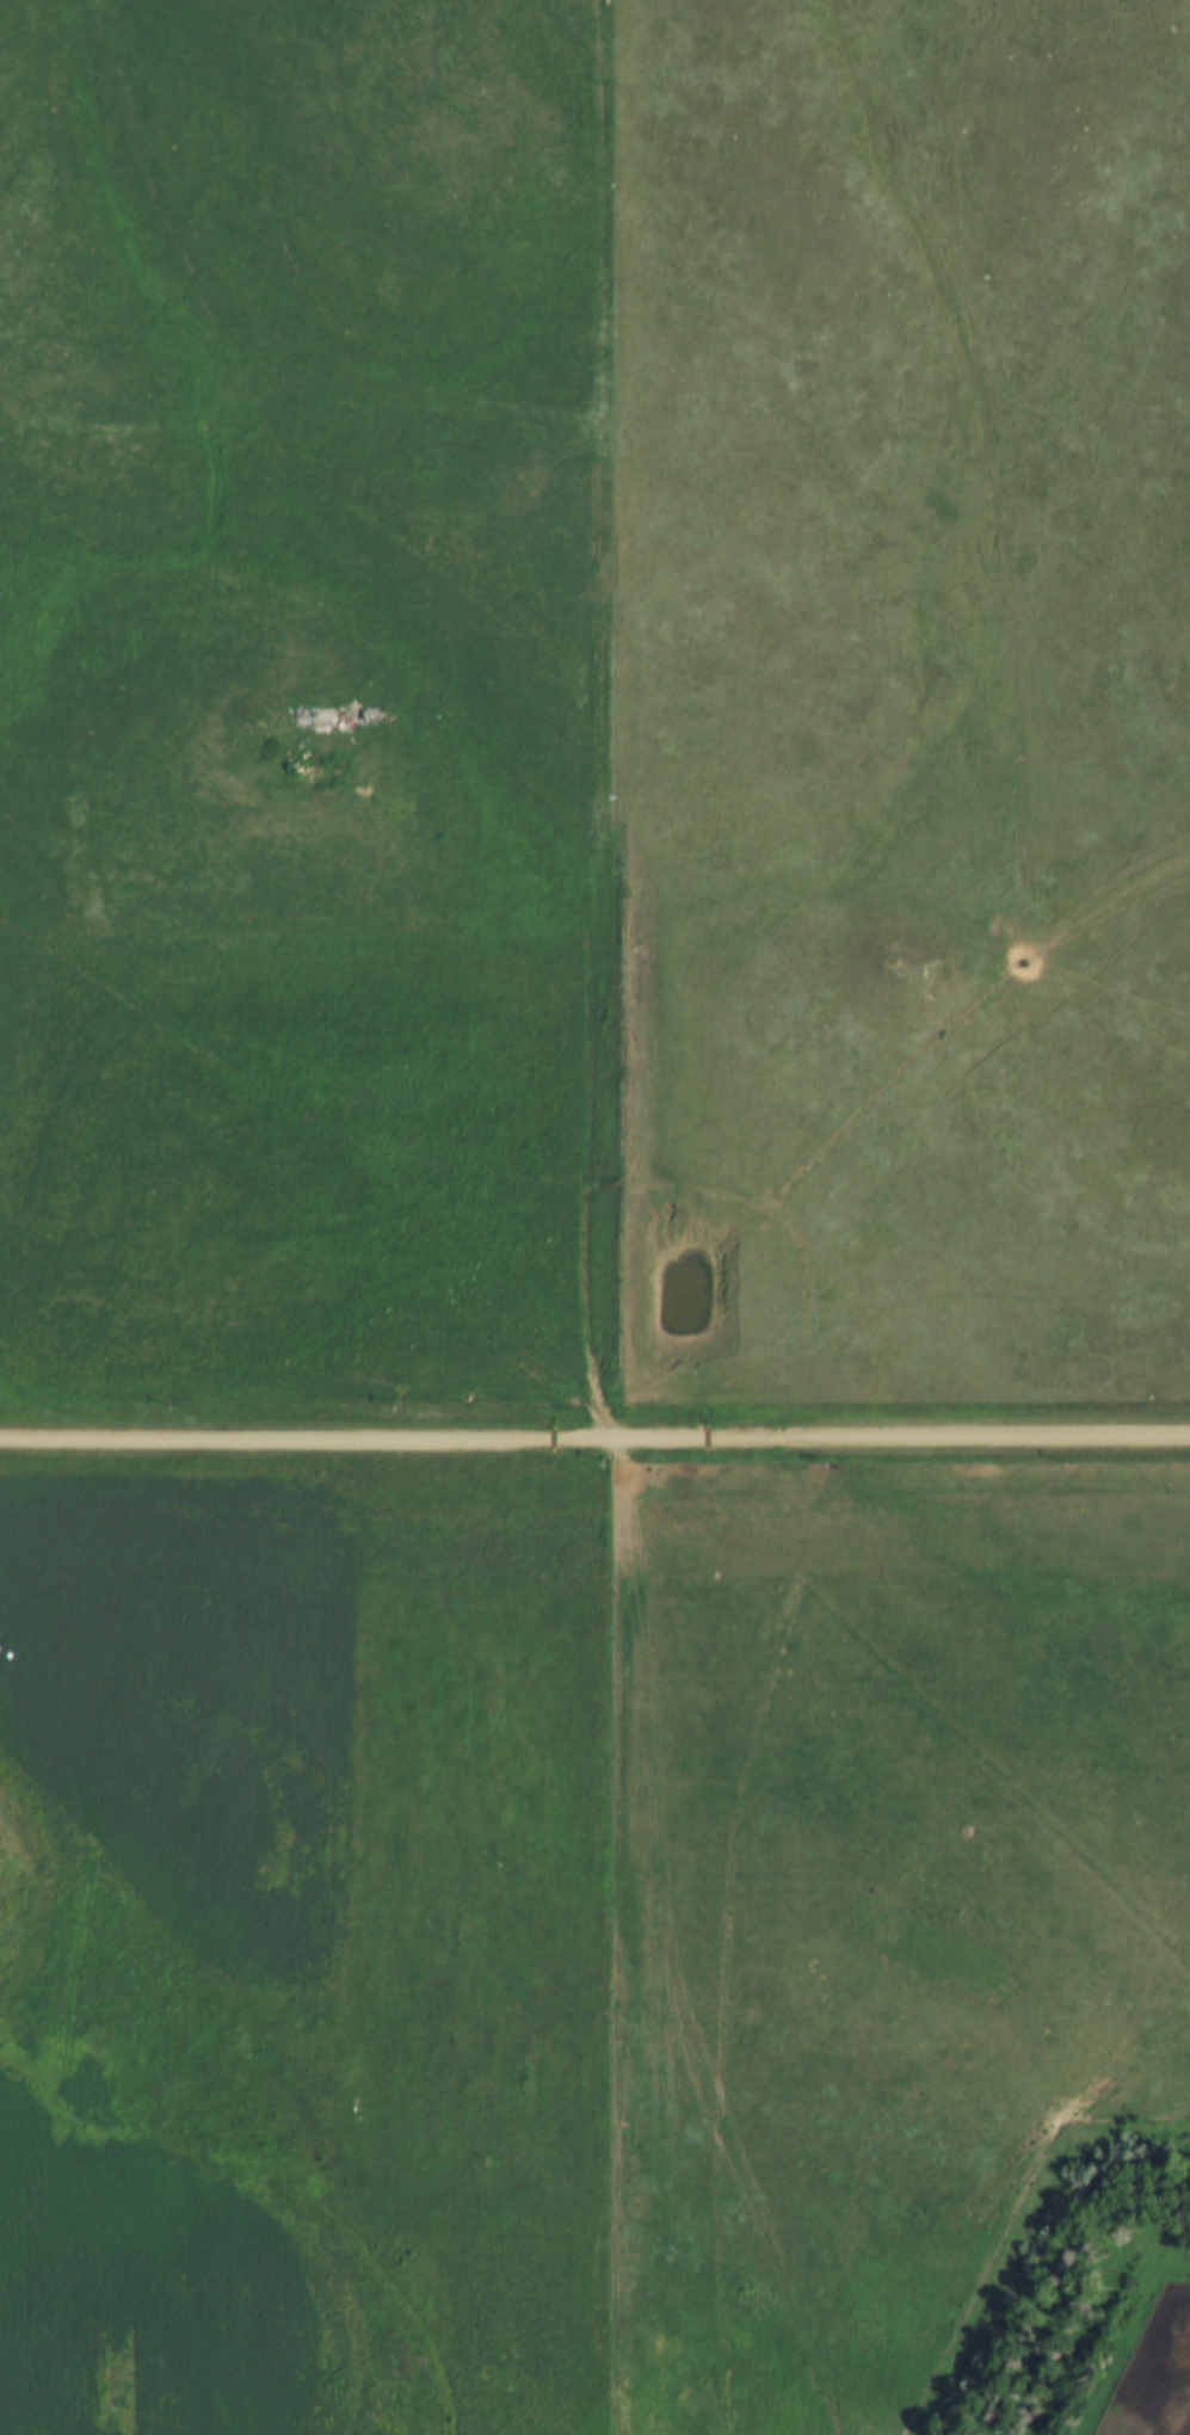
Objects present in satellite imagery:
road: (604, 714)
road: (594, 1428)

